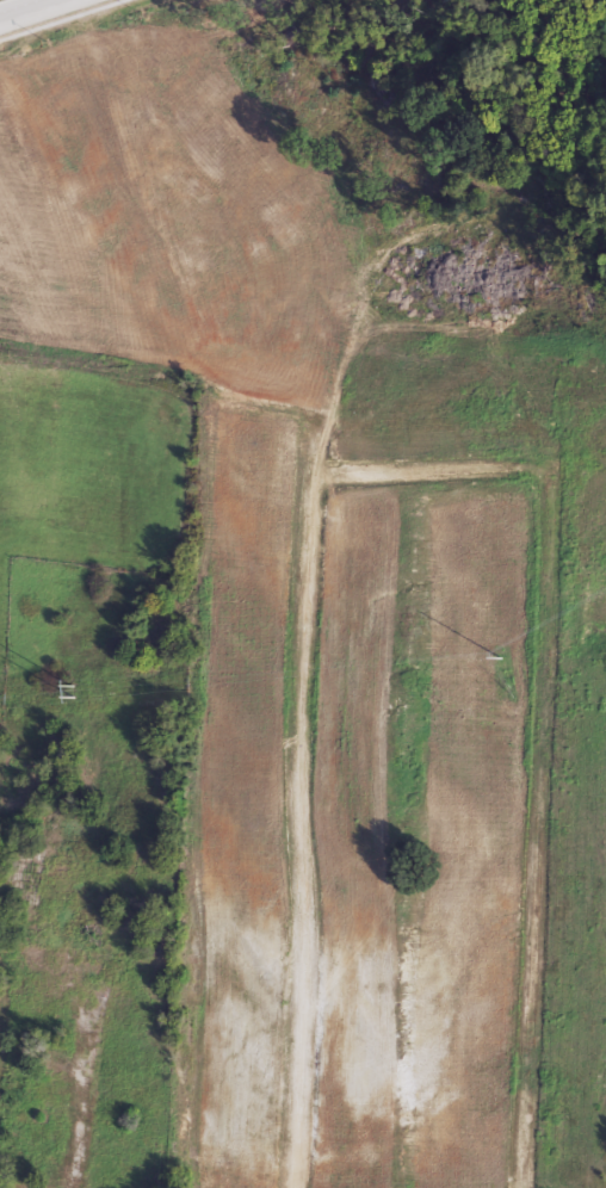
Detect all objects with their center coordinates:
road: (33, 11)
road: (63, 20)
power tower: (502, 656)
power tower: (75, 692)

